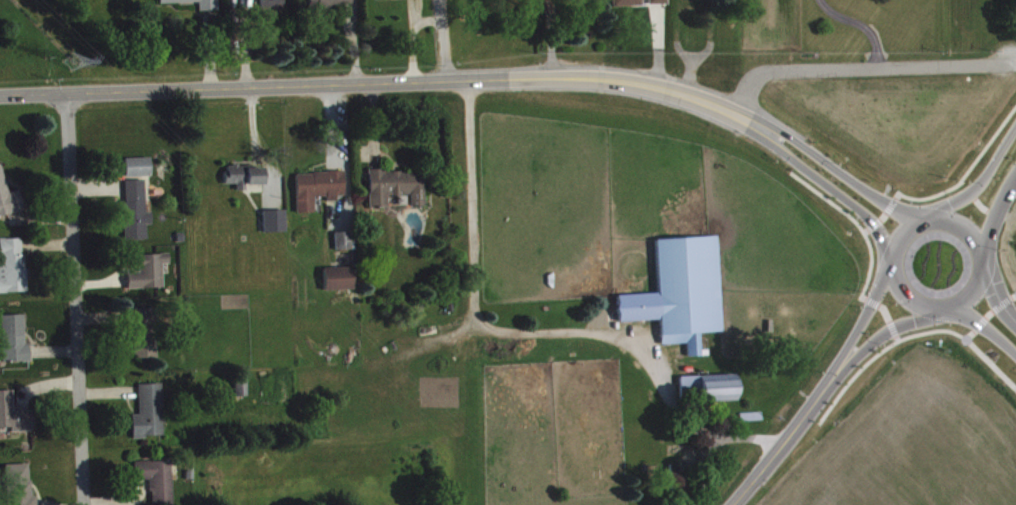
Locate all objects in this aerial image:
building: (393, 0)
building: (194, 5)
building: (640, 5)
building: (328, 6)
building: (274, 7)
road: (428, 21)
road: (859, 25)
power tower: (72, 64)
road: (835, 70)
road: (376, 83)
road: (832, 168)
building: (140, 171)
road: (979, 178)
building: (246, 180)
road: (823, 184)
road: (949, 186)
building: (398, 192)
building: (319, 193)
building: (9, 201)
road: (994, 210)
building: (137, 215)
road: (940, 220)
building: (276, 225)
building: (344, 245)
road: (868, 246)
building: (13, 270)
building: (150, 276)
building: (339, 283)
road: (994, 295)
building: (682, 297)
road: (74, 298)
road: (986, 312)
road: (855, 328)
road: (528, 329)
road: (984, 329)
building: (144, 338)
road: (873, 338)
building: (16, 344)
road: (876, 353)
road: (989, 365)
building: (242, 391)
building: (711, 392)
building: (151, 417)
building: (14, 419)
road: (743, 435)
road: (776, 446)
building: (158, 482)
building: (677, 486)
building: (20, 487)

